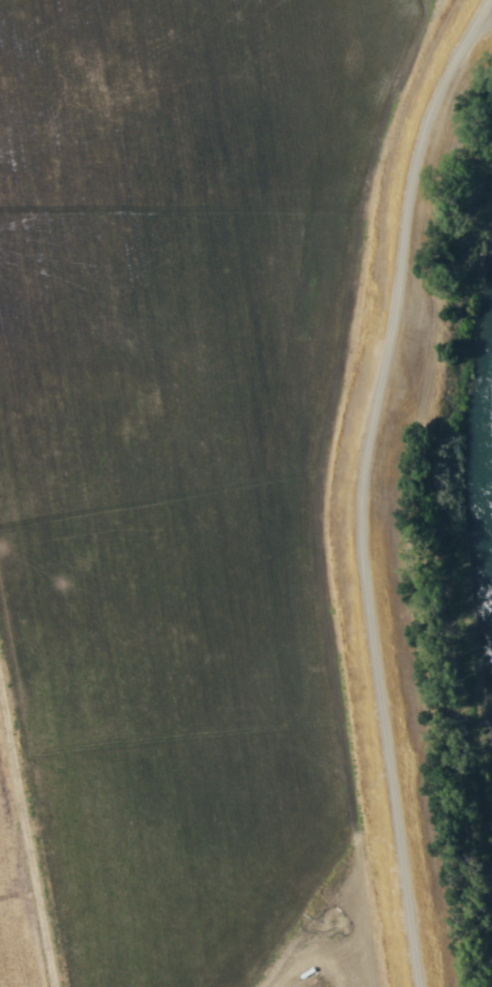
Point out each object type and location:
road: (358, 484)

